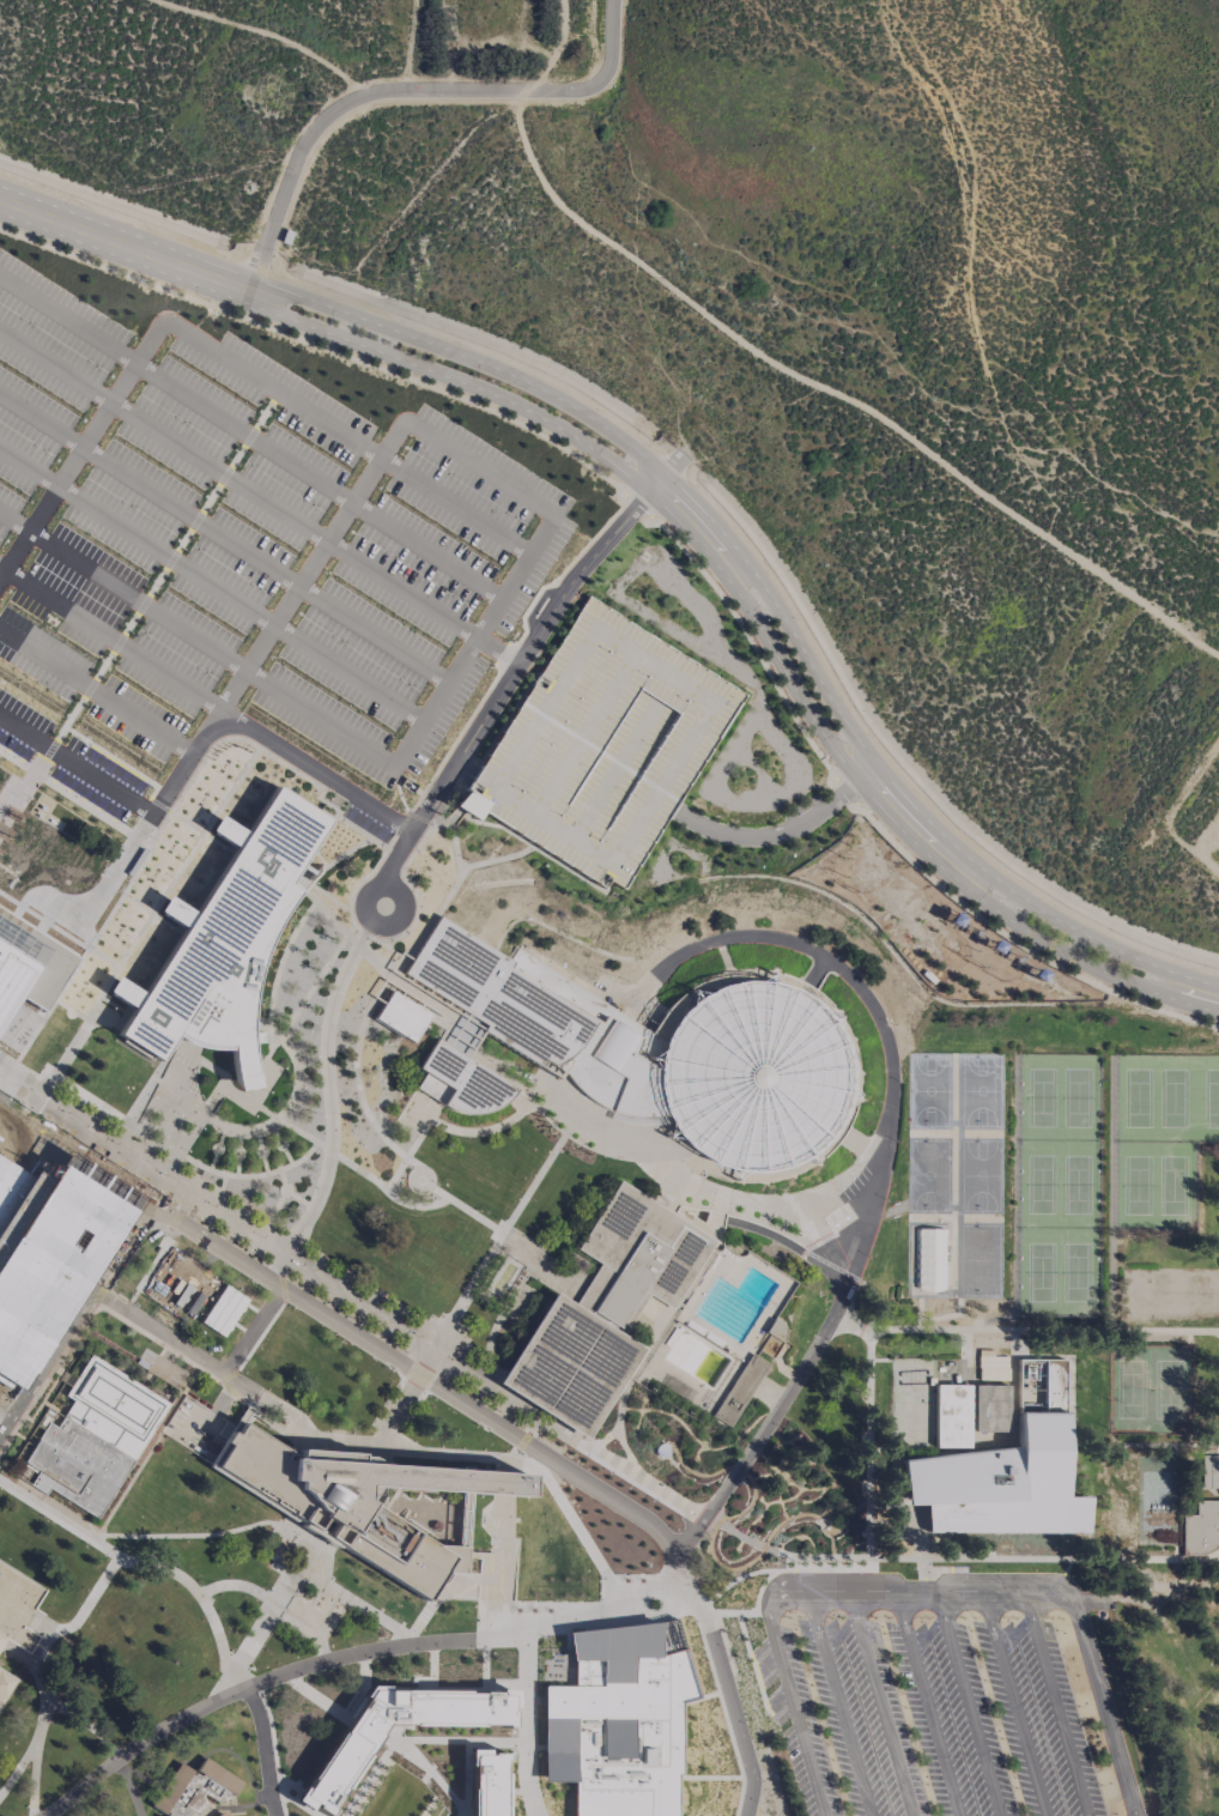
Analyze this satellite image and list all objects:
road: (269, 36)
road: (430, 89)
road: (125, 244)
road: (256, 267)
road: (68, 320)
road: (55, 367)
road: (794, 369)
road: (273, 387)
road: (493, 412)
road: (42, 419)
road: (243, 432)
road: (84, 446)
road: (29, 466)
road: (478, 467)
road: (219, 472)
road: (454, 506)
road: (190, 516)
road: (13, 521)
parking lot: (235, 551)
road: (426, 551)
road: (166, 555)
road: (311, 565)
road: (1, 567)
road: (152, 587)
road: (402, 589)
road: (768, 593)
road: (137, 600)
road: (757, 624)
road: (372, 635)
road: (110, 640)
road: (473, 641)
road: (497, 650)
street lamp: (606, 650)
road: (514, 667)
road: (350, 673)
street lamp: (644, 676)
road: (95, 691)
street lamp: (684, 701)
road: (320, 719)
road: (263, 739)
street lamp: (547, 744)
building: (602, 746)
parking lot: (602, 746)
road: (75, 767)
street lamp: (586, 769)
road: (465, 770)
road: (156, 785)
street lamp: (517, 791)
street lamp: (624, 793)
road: (80, 803)
street lamp: (557, 815)
road: (781, 831)
street lamp: (595, 840)
road: (121, 864)
building: (224, 939)
road: (1013, 939)
road: (129, 945)
building: (29, 974)
building: (402, 1016)
building: (539, 1022)
building: (752, 1077)
road: (327, 1078)
road: (357, 1078)
building: (465, 1080)
road: (575, 1113)
road: (462, 1130)
park: (960, 1161)
park: (1103, 1163)
road: (884, 1166)
road: (384, 1190)
road: (4, 1201)
road: (96, 1218)
road: (502, 1230)
road: (5, 1240)
road: (291, 1258)
building: (929, 1259)
building: (177, 1283)
road: (77, 1309)
building: (605, 1309)
road: (135, 1316)
road: (1025, 1330)
road: (260, 1334)
building: (990, 1366)
road: (417, 1373)
park: (1151, 1390)
building: (739, 1391)
road: (404, 1396)
road: (5, 1414)
building: (951, 1416)
road: (5, 1424)
building: (95, 1436)
road: (619, 1436)
road: (867, 1443)
road: (472, 1455)
building: (1209, 1471)
road: (643, 1481)
building: (996, 1483)
building: (353, 1501)
road: (501, 1517)
building: (1201, 1527)
road: (193, 1534)
road: (917, 1546)
road: (958, 1558)
road: (505, 1576)
road: (461, 1582)
road: (508, 1585)
road: (238, 1586)
road: (859, 1592)
road: (202, 1598)
road: (274, 1604)
road: (360, 1604)
road: (79, 1620)
road: (489, 1620)
building: (1, 1639)
road: (350, 1654)
road: (1097, 1679)
building: (5, 1684)
road: (726, 1685)
road: (1056, 1702)
road: (839, 1703)
road: (881, 1703)
road: (927, 1703)
road: (969, 1703)
road: (1015, 1703)
road: (795, 1705)
parking lot: (930, 1719)
building: (619, 1720)
road: (87, 1721)
road: (523, 1726)
road: (422, 1738)
road: (273, 1748)
road: (263, 1750)
building: (339, 1763)
road: (35, 1779)
building: (486, 1782)
road: (128, 1787)
building: (194, 1790)
building: (222, 1815)

